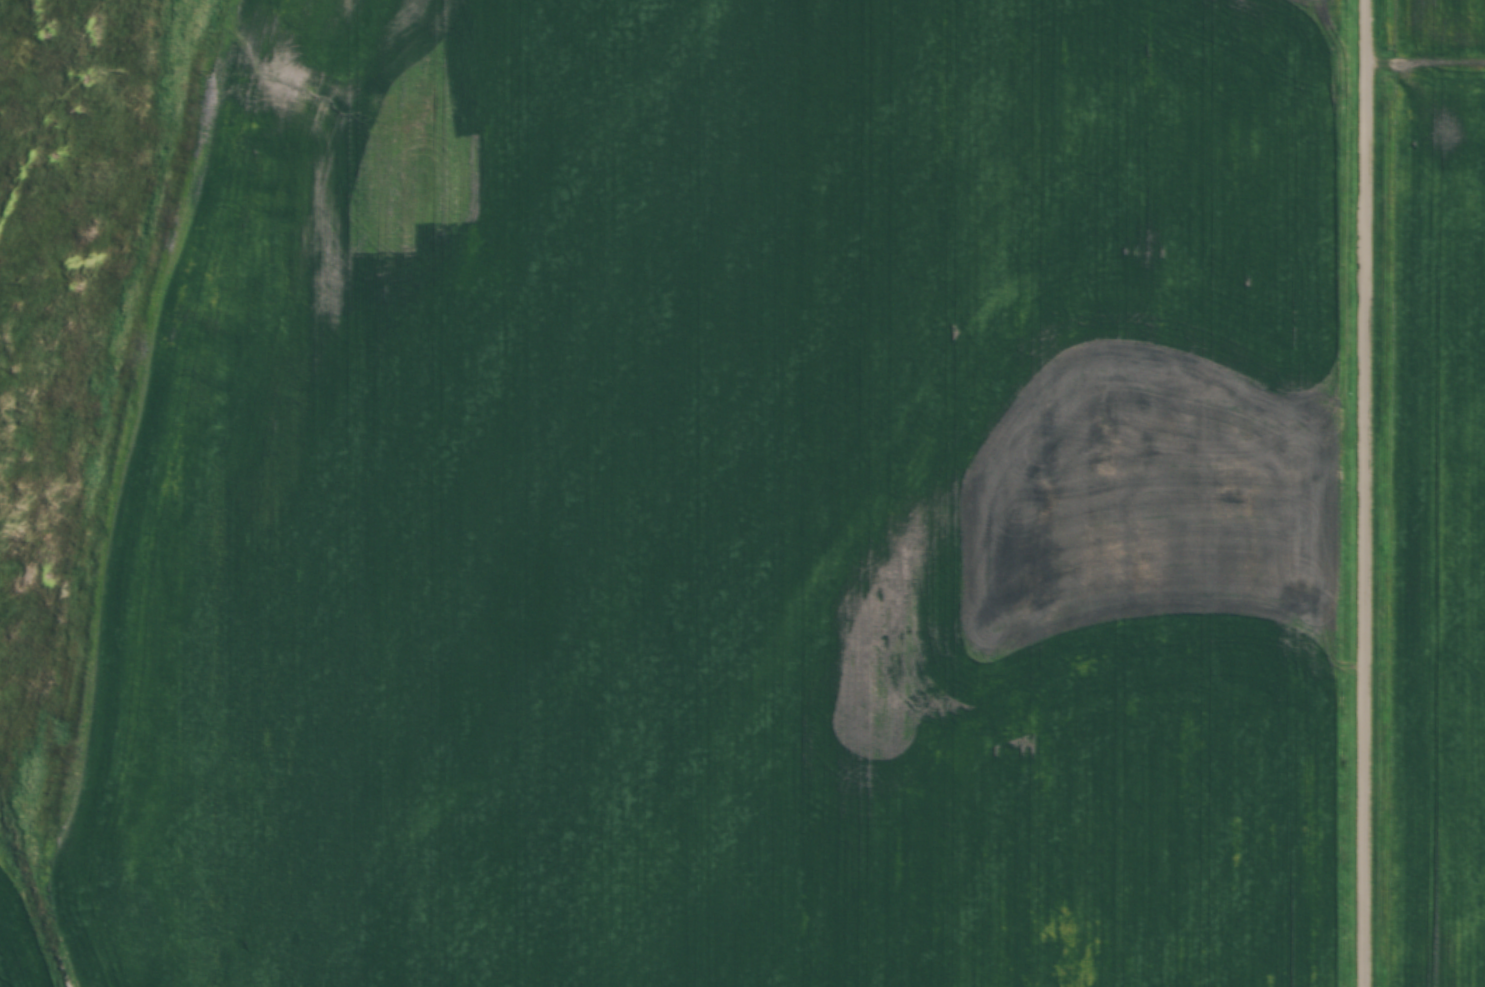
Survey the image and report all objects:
road: (1367, 493)

